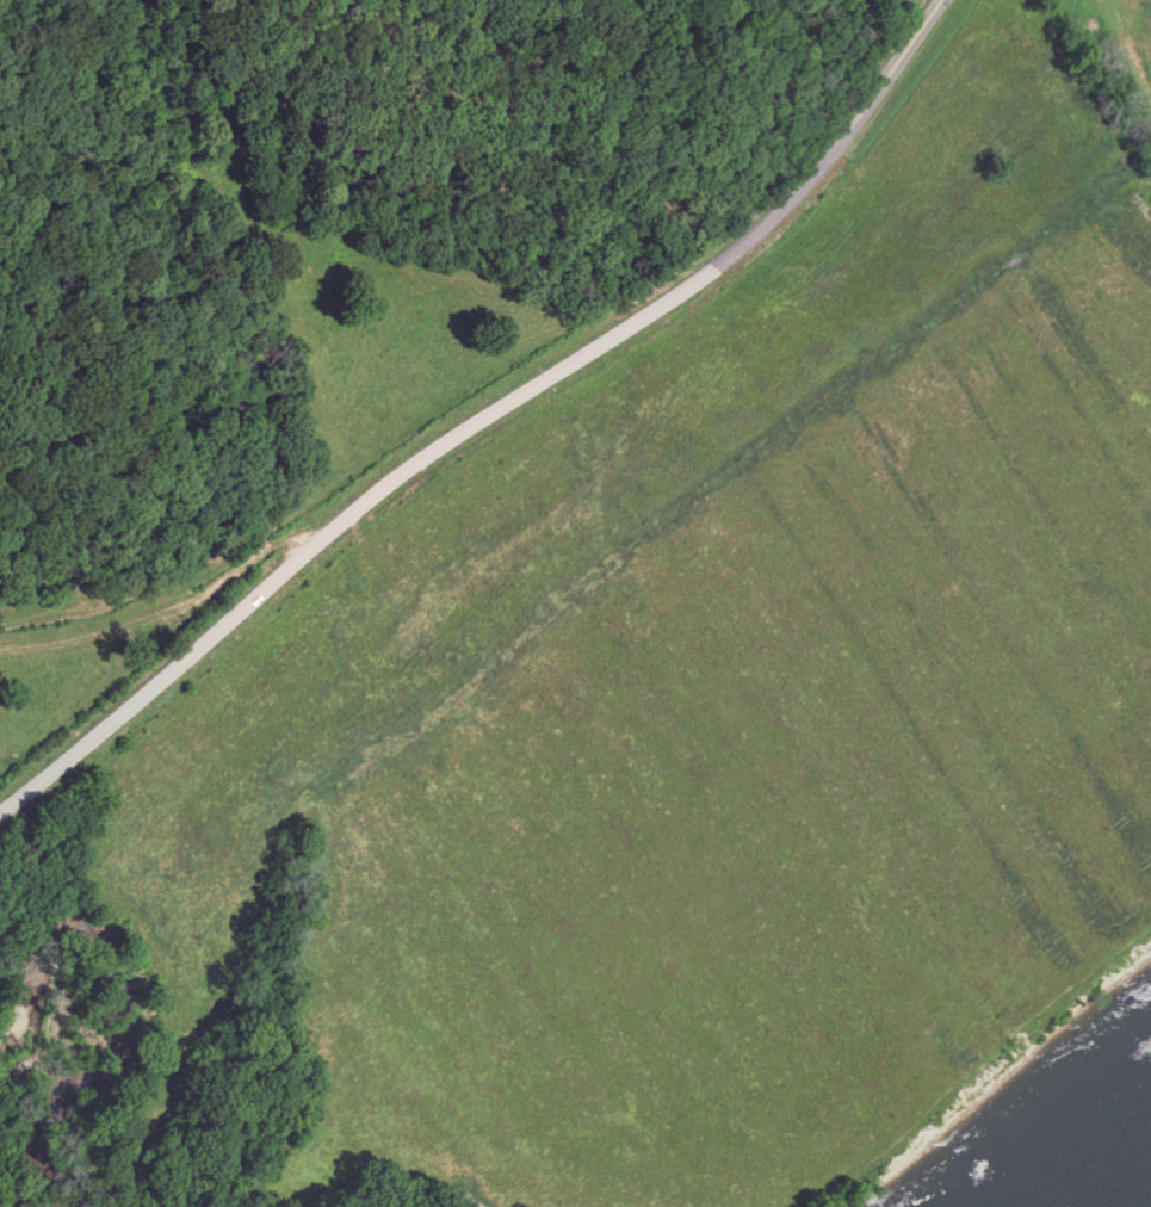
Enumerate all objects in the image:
road: (483, 411)
river: (1132, 1187)

